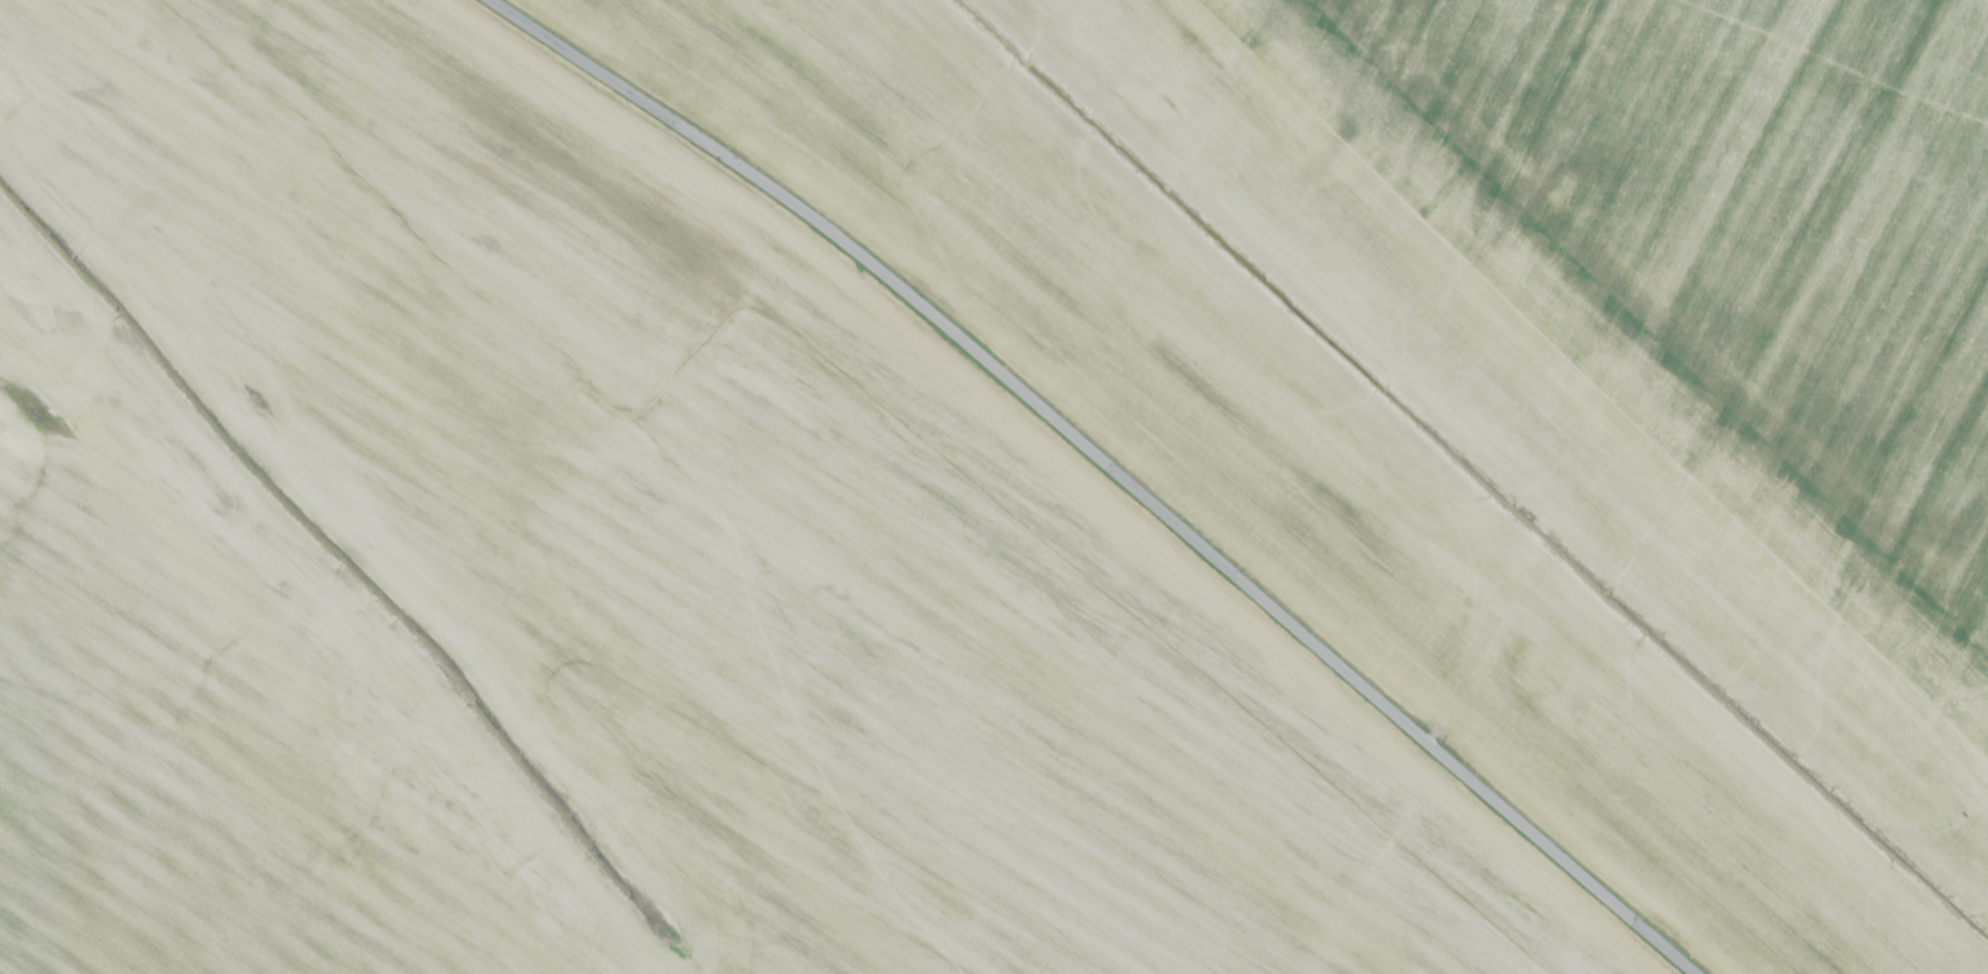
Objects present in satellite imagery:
road: (1107, 466)

